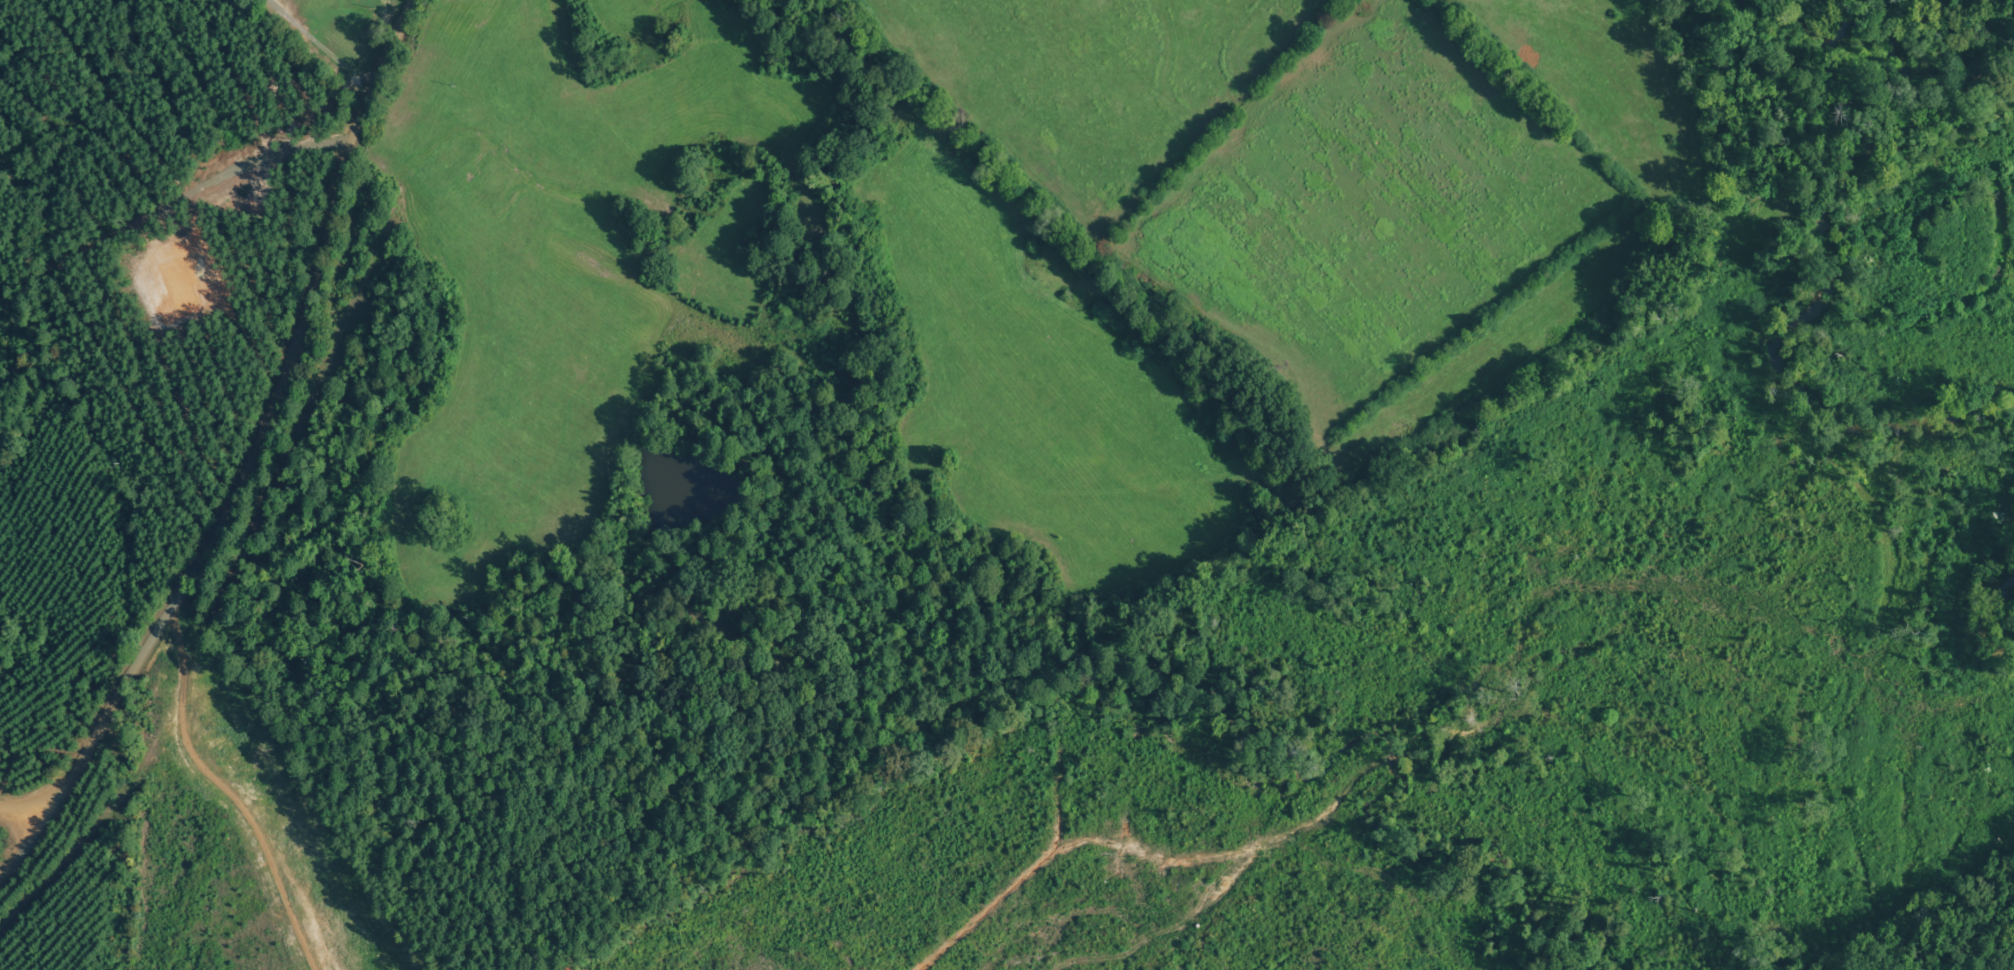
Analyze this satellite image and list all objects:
road: (1028, 254)
road: (147, 347)
road: (280, 441)
road: (20, 821)
road: (241, 840)
road: (37, 884)

